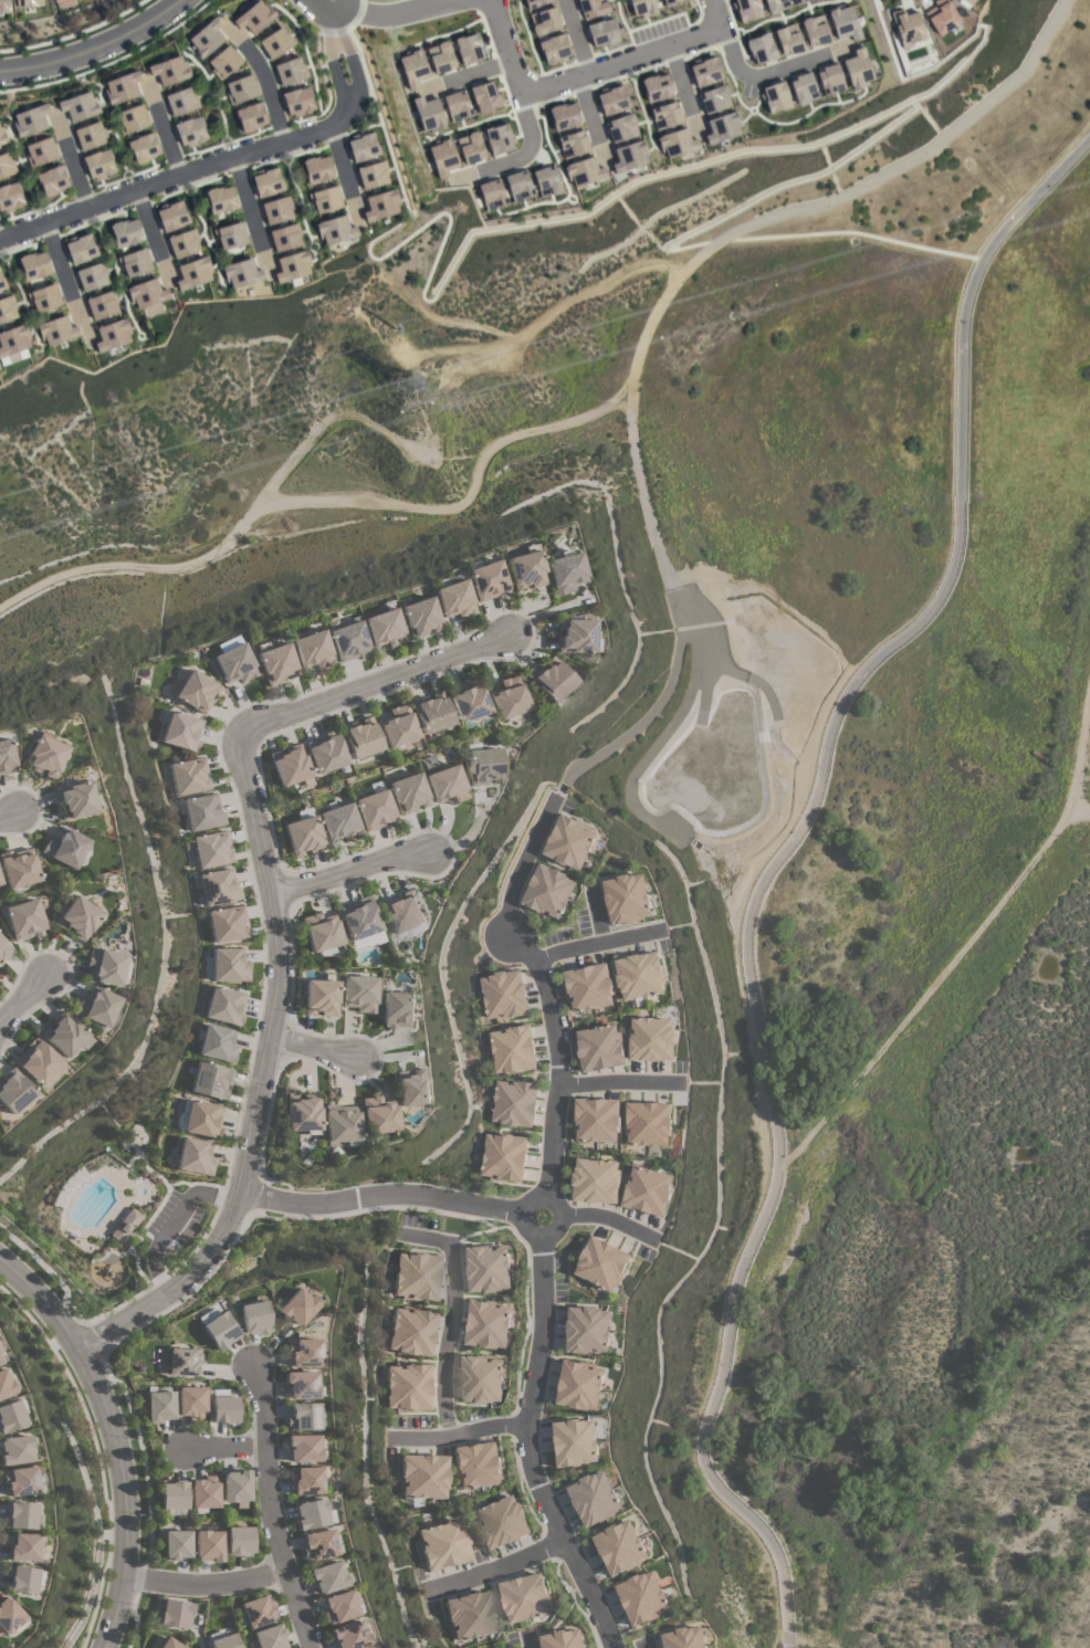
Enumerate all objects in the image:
building: (56, 0)
building: (669, 1)
road: (323, 2)
building: (28, 3)
building: (534, 3)
building: (782, 4)
building: (3, 6)
building: (591, 8)
building: (640, 8)
building: (746, 10)
road: (391, 13)
building: (254, 17)
building: (544, 21)
building: (842, 23)
building: (814, 30)
building: (601, 33)
road: (75, 34)
building: (206, 39)
building: (787, 40)
building: (275, 43)
road: (94, 48)
building: (468, 49)
building: (553, 49)
building: (759, 49)
building: (440, 59)
building: (224, 62)
building: (412, 69)
building: (856, 69)
building: (169, 70)
building: (290, 71)
building: (703, 73)
road: (588, 74)
road: (754, 75)
building: (828, 80)
road: (264, 82)
building: (122, 87)
building: (801, 88)
building: (241, 90)
building: (774, 97)
building: (713, 99)
building: (470, 101)
building: (610, 101)
building: (180, 102)
building: (297, 102)
building: (78, 106)
building: (428, 114)
building: (251, 117)
building: (665, 117)
building: (132, 118)
building: (30, 120)
building: (620, 128)
building: (721, 128)
road: (161, 132)
building: (190, 132)
building: (2, 136)
building: (90, 136)
building: (497, 139)
road: (528, 143)
building: (573, 145)
building: (363, 146)
building: (144, 148)
building: (470, 148)
building: (41, 151)
building: (628, 157)
building: (442, 158)
road: (228, 160)
road: (711, 160)
road: (73, 164)
building: (6, 165)
building: (98, 165)
building: (317, 169)
road: (343, 174)
building: (371, 175)
building: (52, 180)
building: (545, 181)
building: (266, 182)
building: (517, 186)
building: (491, 193)
building: (10, 197)
building: (325, 199)
building: (220, 200)
building: (380, 206)
building: (276, 210)
building: (171, 216)
building: (335, 230)
building: (125, 233)
building: (230, 235)
building: (284, 238)
building: (182, 243)
building: (81, 249)
building: (135, 263)
building: (34, 265)
building: (292, 266)
building: (192, 273)
building: (241, 273)
building: (92, 276)
road: (64, 282)
building: (2, 284)
building: (146, 293)
building: (44, 297)
building: (102, 304)
building: (7, 308)
road: (650, 321)
building: (56, 330)
building: (112, 335)
building: (13, 340)
power tower: (407, 390)
road: (323, 504)
building: (524, 569)
building: (563, 571)
building: (485, 580)
building: (452, 596)
building: (419, 617)
building: (384, 628)
building: (573, 636)
building: (348, 641)
building: (312, 650)
building: (275, 663)
building: (234, 664)
building: (549, 680)
road: (369, 685)
building: (195, 691)
building: (506, 699)
building: (468, 701)
building: (431, 712)
building: (397, 726)
building: (182, 731)
building: (360, 738)
building: (326, 753)
building: (42, 755)
building: (4, 757)
building: (290, 765)
building: (483, 766)
building: (190, 775)
building: (447, 785)
building: (409, 792)
building: (74, 799)
building: (376, 810)
building: (203, 811)
road: (8, 817)
building: (340, 822)
building: (304, 836)
building: (569, 841)
building: (64, 848)
building: (211, 849)
road: (773, 867)
building: (18, 869)
road: (352, 872)
building: (0, 882)
building: (219, 886)
building: (548, 891)
building: (627, 898)
building: (403, 912)
building: (76, 917)
building: (359, 919)
building: (23, 920)
road: (596, 923)
building: (228, 924)
building: (322, 932)
road: (604, 947)
building: (3, 949)
building: (230, 965)
building: (104, 966)
building: (640, 975)
building: (588, 986)
building: (359, 993)
building: (504, 994)
road: (21, 997)
building: (321, 997)
building: (227, 1006)
building: (96, 1007)
building: (398, 1009)
building: (63, 1035)
building: (651, 1038)
building: (218, 1043)
road: (315, 1047)
building: (599, 1047)
building: (513, 1048)
building: (35, 1060)
building: (212, 1080)
road: (619, 1081)
road: (261, 1082)
building: (412, 1088)
building: (13, 1091)
building: (514, 1102)
building: (303, 1113)
building: (378, 1115)
building: (200, 1119)
building: (596, 1119)
building: (648, 1122)
building: (340, 1125)
building: (195, 1156)
building: (504, 1156)
building: (596, 1179)
building: (647, 1189)
road: (388, 1196)
road: (541, 1217)
road: (600, 1219)
road: (170, 1222)
building: (126, 1225)
building: (601, 1262)
building: (488, 1268)
road: (46, 1271)
building: (416, 1276)
building: (296, 1306)
building: (254, 1316)
road: (452, 1318)
building: (488, 1323)
building: (587, 1330)
building: (220, 1331)
building: (412, 1331)
building: (303, 1352)
building: (1, 1357)
building: (184, 1362)
building: (481, 1378)
building: (6, 1383)
building: (579, 1384)
building: (301, 1385)
building: (408, 1386)
road: (80, 1399)
building: (191, 1402)
building: (160, 1406)
building: (224, 1409)
building: (11, 1415)
building: (303, 1417)
road: (459, 1435)
road: (112, 1439)
building: (575, 1441)
road: (227, 1448)
building: (303, 1448)
building: (15, 1449)
road: (142, 1449)
building: (476, 1463)
building: (423, 1476)
building: (20, 1480)
building: (305, 1480)
building: (237, 1488)
building: (205, 1493)
building: (174, 1494)
building: (594, 1498)
building: (311, 1513)
road: (270, 1514)
building: (20, 1515)
building: (502, 1521)
building: (239, 1541)
building: (177, 1544)
building: (209, 1545)
building: (317, 1545)
building: (443, 1545)
building: (22, 1546)
building: (620, 1546)
road: (497, 1567)
building: (327, 1576)
building: (22, 1579)
road: (206, 1584)
road: (88, 1591)
road: (97, 1592)
building: (524, 1596)
building: (642, 1596)
building: (338, 1607)
building: (258, 1610)
building: (176, 1614)
building: (470, 1615)
building: (9, 1617)
building: (348, 1635)
building: (270, 1637)
building: (684, 1637)
building: (563, 1639)
building: (226, 1641)
building: (169, 1644)
road: (530, 1645)
road: (643, 1646)

